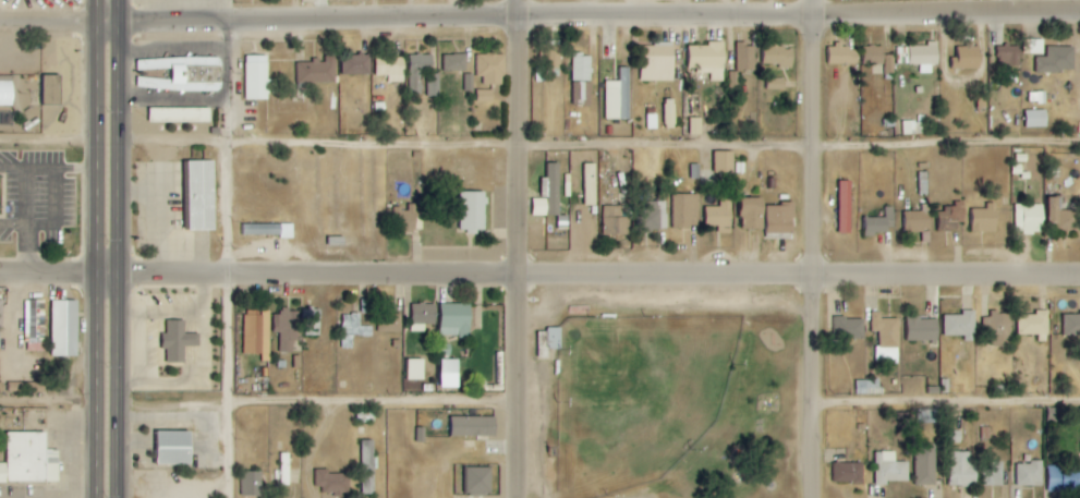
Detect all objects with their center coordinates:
road: (226, 11)
road: (539, 15)
building: (1036, 47)
building: (551, 54)
building: (923, 54)
building: (842, 56)
building: (1009, 56)
building: (778, 57)
building: (745, 58)
building: (879, 58)
building: (967, 58)
building: (707, 60)
building: (1057, 60)
building: (657, 62)
building: (454, 63)
building: (356, 64)
building: (390, 68)
building: (490, 70)
building: (418, 71)
building: (316, 73)
building: (183, 74)
building: (254, 77)
building: (581, 80)
building: (468, 82)
road: (227, 83)
building: (433, 84)
building: (776, 84)
building: (48, 89)
building: (7, 92)
building: (484, 96)
building: (617, 97)
building: (1037, 98)
building: (668, 114)
building: (177, 116)
building: (1036, 119)
building: (694, 126)
road: (539, 148)
building: (724, 162)
building: (922, 183)
building: (588, 185)
building: (548, 194)
building: (199, 195)
building: (841, 207)
building: (472, 211)
building: (682, 211)
building: (717, 214)
building: (752, 214)
building: (653, 217)
building: (951, 218)
building: (1063, 218)
building: (404, 219)
building: (780, 219)
building: (985, 219)
building: (1030, 219)
building: (616, 220)
building: (546, 221)
building: (918, 221)
building: (882, 222)
building: (267, 230)
road: (96, 248)
road: (118, 248)
road: (517, 248)
road: (810, 248)
road: (539, 276)
building: (423, 316)
road: (226, 320)
building: (456, 320)
building: (312, 323)
building: (389, 323)
building: (1033, 324)
building: (1071, 324)
building: (35, 326)
building: (961, 326)
building: (0, 328)
building: (849, 328)
building: (64, 329)
building: (287, 329)
building: (922, 329)
building: (352, 330)
building: (1000, 330)
building: (886, 331)
building: (255, 335)
building: (554, 339)
building: (178, 342)
building: (449, 367)
building: (415, 371)
building: (865, 387)
park: (662, 392)
park: (631, 394)
road: (945, 402)
road: (315, 403)
road: (47, 404)
building: (927, 416)
building: (473, 427)
building: (174, 449)
building: (29, 460)
building: (926, 465)
building: (889, 469)
building: (282, 470)
building: (368, 470)
building: (962, 470)
building: (849, 473)
building: (992, 473)
building: (1030, 474)
building: (1064, 479)
building: (477, 481)
building: (332, 483)
building: (251, 485)

